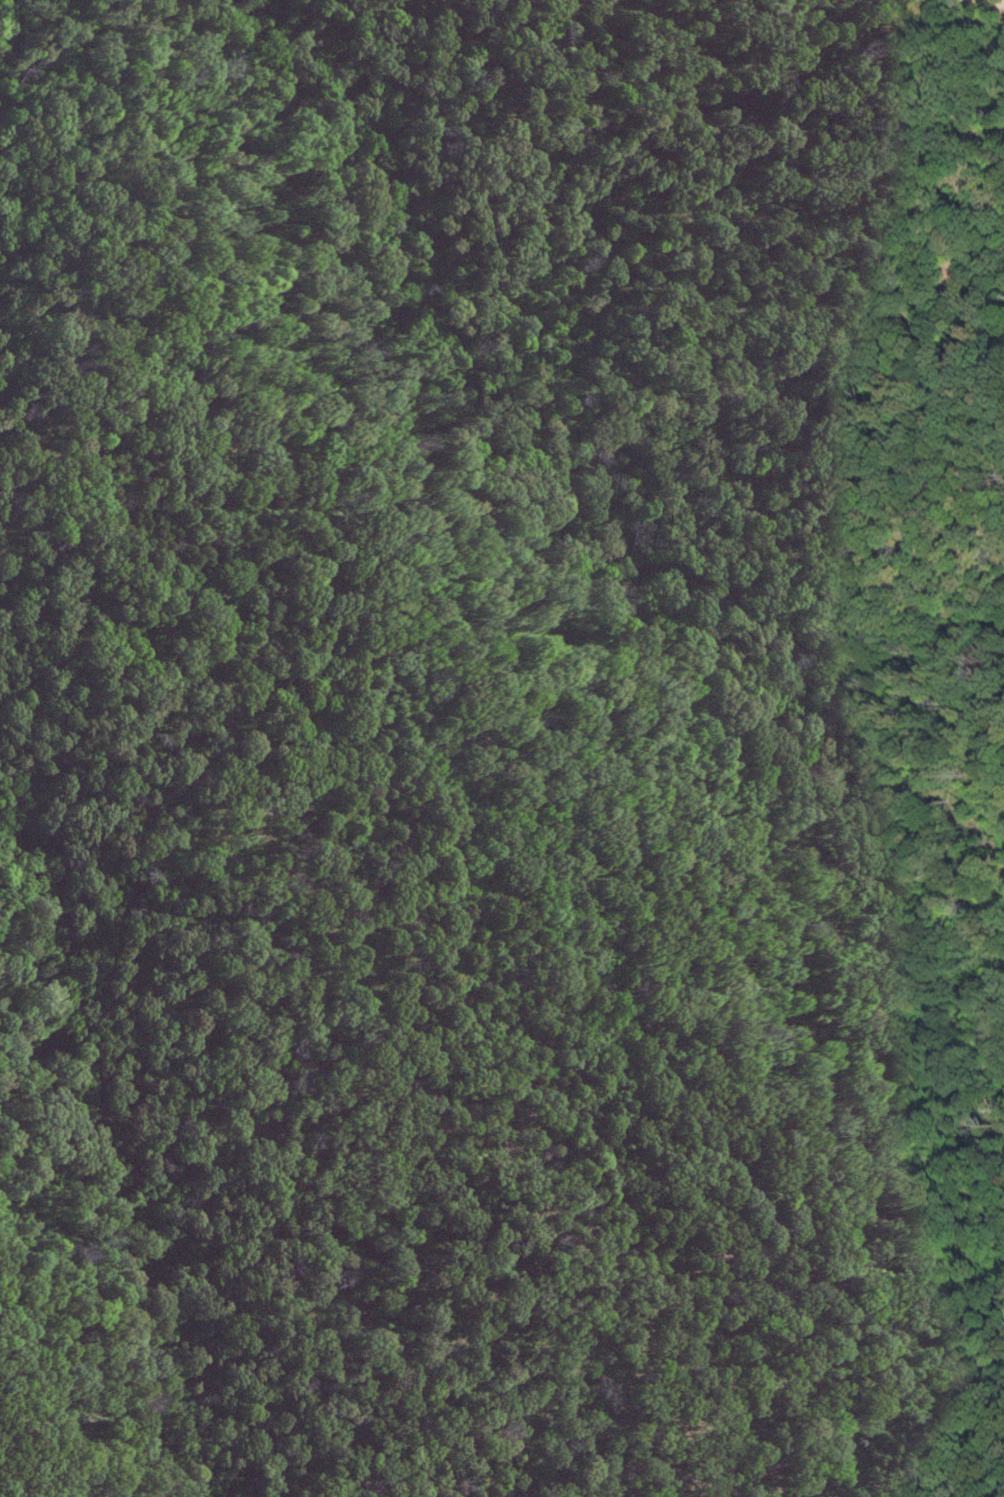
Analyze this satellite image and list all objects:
road: (383, 730)

